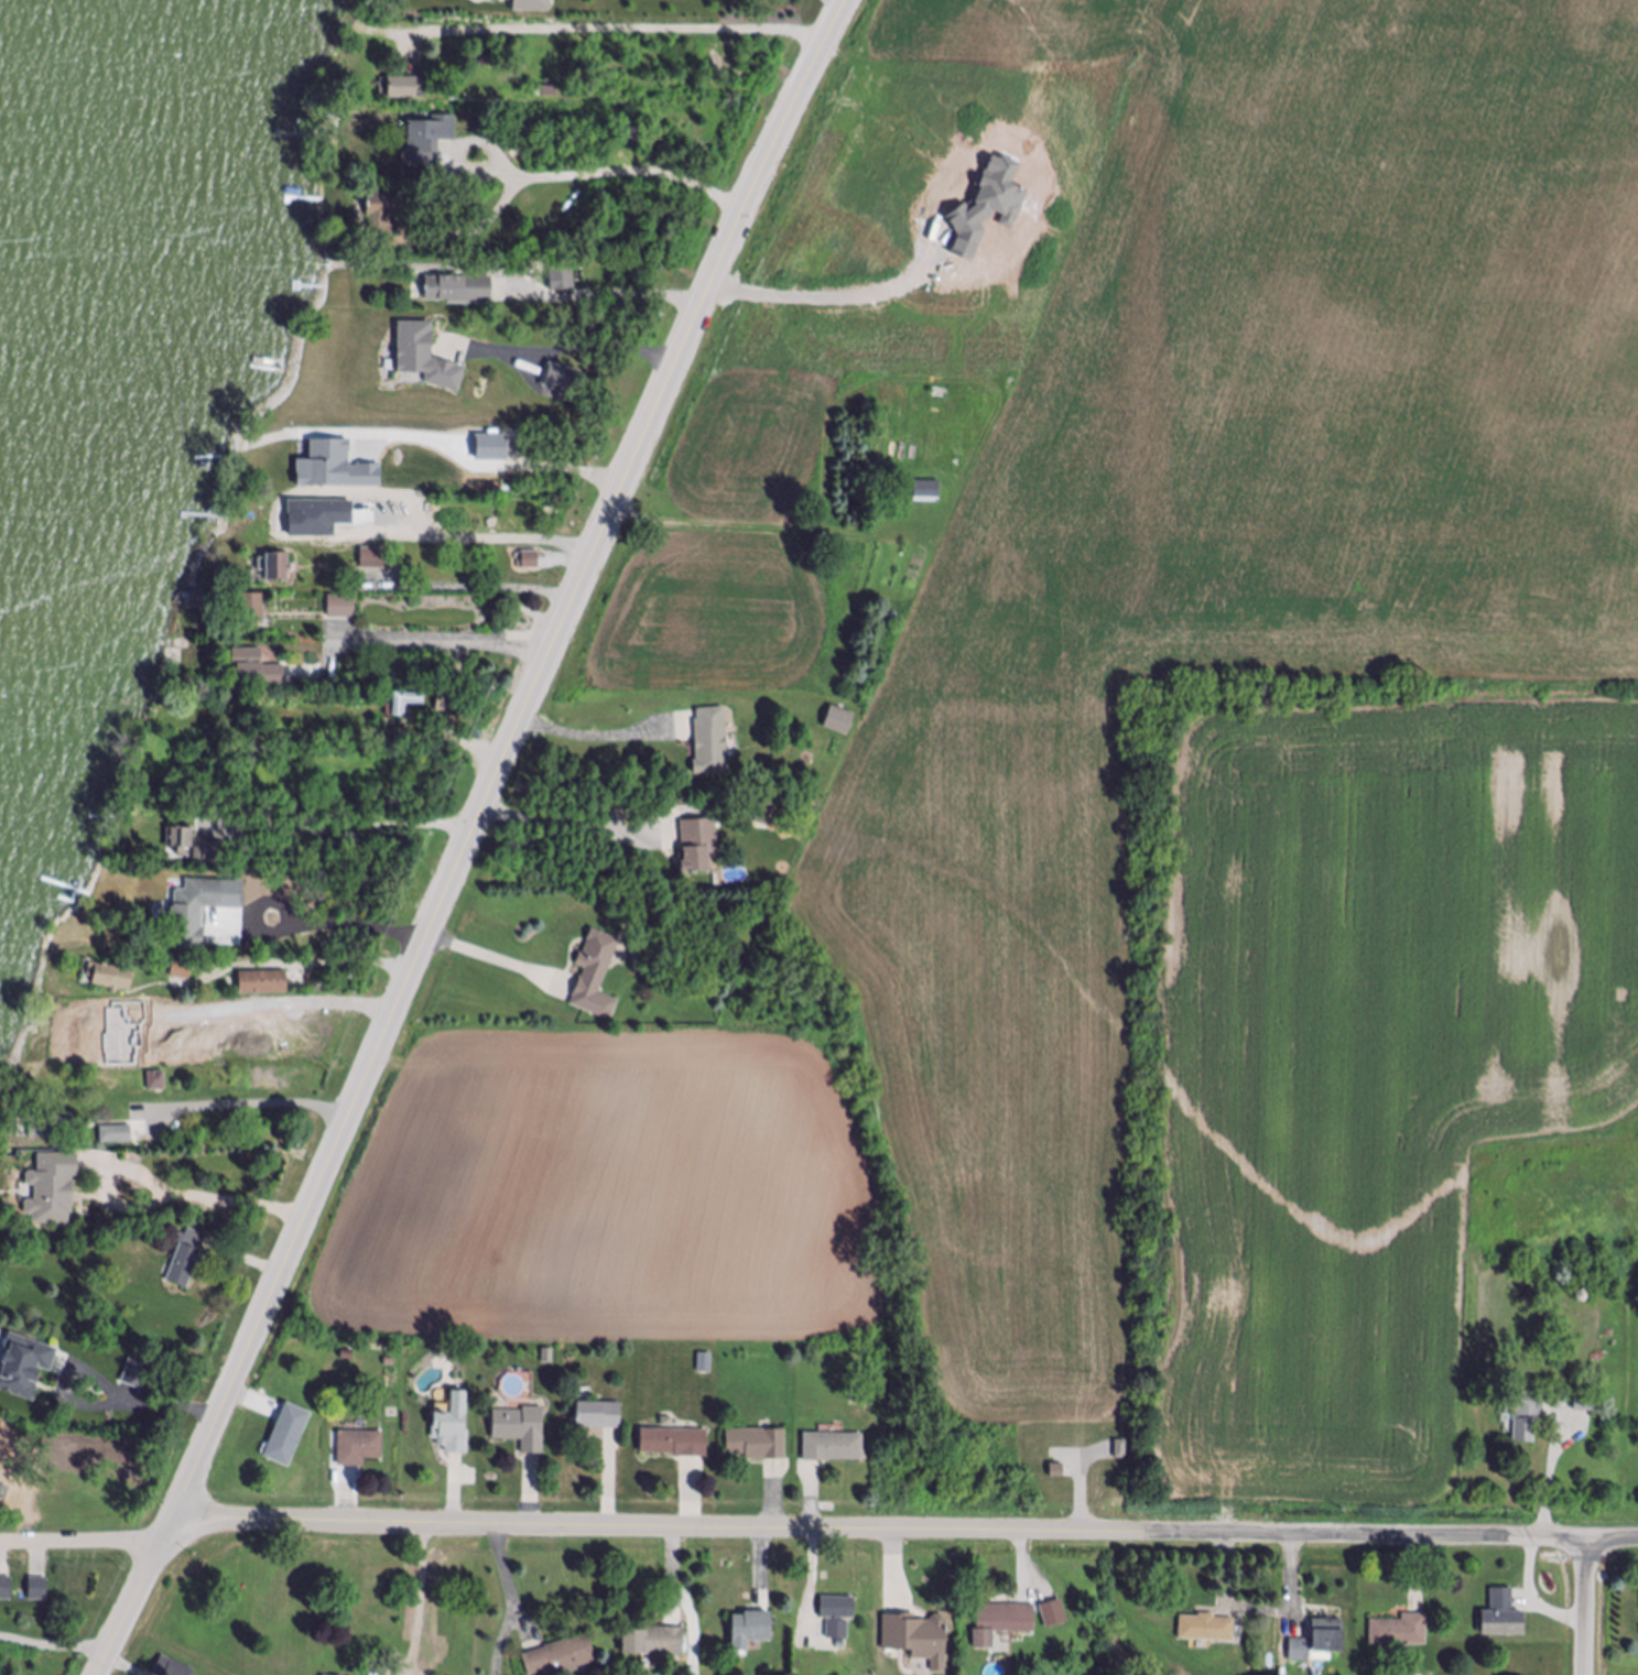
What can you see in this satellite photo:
building: (525, 6)
road: (615, 28)
building: (480, 61)
building: (401, 88)
building: (632, 137)
building: (430, 141)
road: (634, 177)
building: (386, 221)
building: (564, 279)
building: (460, 290)
road: (825, 298)
road: (617, 300)
road: (593, 351)
building: (426, 359)
building: (565, 379)
building: (491, 447)
building: (334, 467)
road: (499, 467)
building: (928, 492)
building: (300, 518)
building: (356, 536)
road: (498, 540)
building: (375, 559)
building: (531, 562)
building: (279, 568)
road: (477, 586)
building: (197, 599)
building: (512, 606)
building: (341, 608)
building: (251, 610)
road: (453, 641)
building: (257, 668)
building: (408, 703)
building: (453, 710)
building: (842, 722)
road: (585, 739)
building: (712, 742)
building: (763, 813)
crop: (1159, 820)
road: (563, 825)
road: (357, 829)
road: (469, 836)
building: (181, 840)
building: (701, 847)
building: (213, 852)
building: (195, 912)
road: (419, 940)
road: (305, 960)
building: (594, 969)
building: (183, 971)
building: (116, 979)
building: (264, 985)
road: (258, 1000)
building: (83, 1011)
building: (86, 1049)
building: (158, 1083)
road: (250, 1108)
building: (51, 1127)
building: (118, 1135)
building: (53, 1186)
road: (224, 1201)
building: (187, 1258)
building: (1580, 1298)
building: (704, 1362)
building: (25, 1364)
building: (137, 1373)
road: (152, 1397)
building: (856, 1400)
building: (1587, 1402)
building: (1523, 1415)
building: (599, 1416)
building: (453, 1428)
building: (522, 1429)
building: (289, 1437)
building: (675, 1444)
building: (759, 1445)
building: (360, 1448)
building: (833, 1448)
building: (1119, 1448)
building: (1059, 1471)
road: (1552, 1483)
road: (816, 1533)
building: (39, 1588)
building: (7, 1589)
road: (1533, 1599)
road: (422, 1603)
road: (1586, 1608)
building: (1053, 1613)
building: (1503, 1616)
building: (839, 1617)
building: (1001, 1623)
building: (1208, 1630)
building: (751, 1631)
building: (1399, 1631)
building: (915, 1636)
building: (1316, 1642)
building: (655, 1643)
road: (53, 1651)
building: (563, 1657)
building: (173, 1668)

